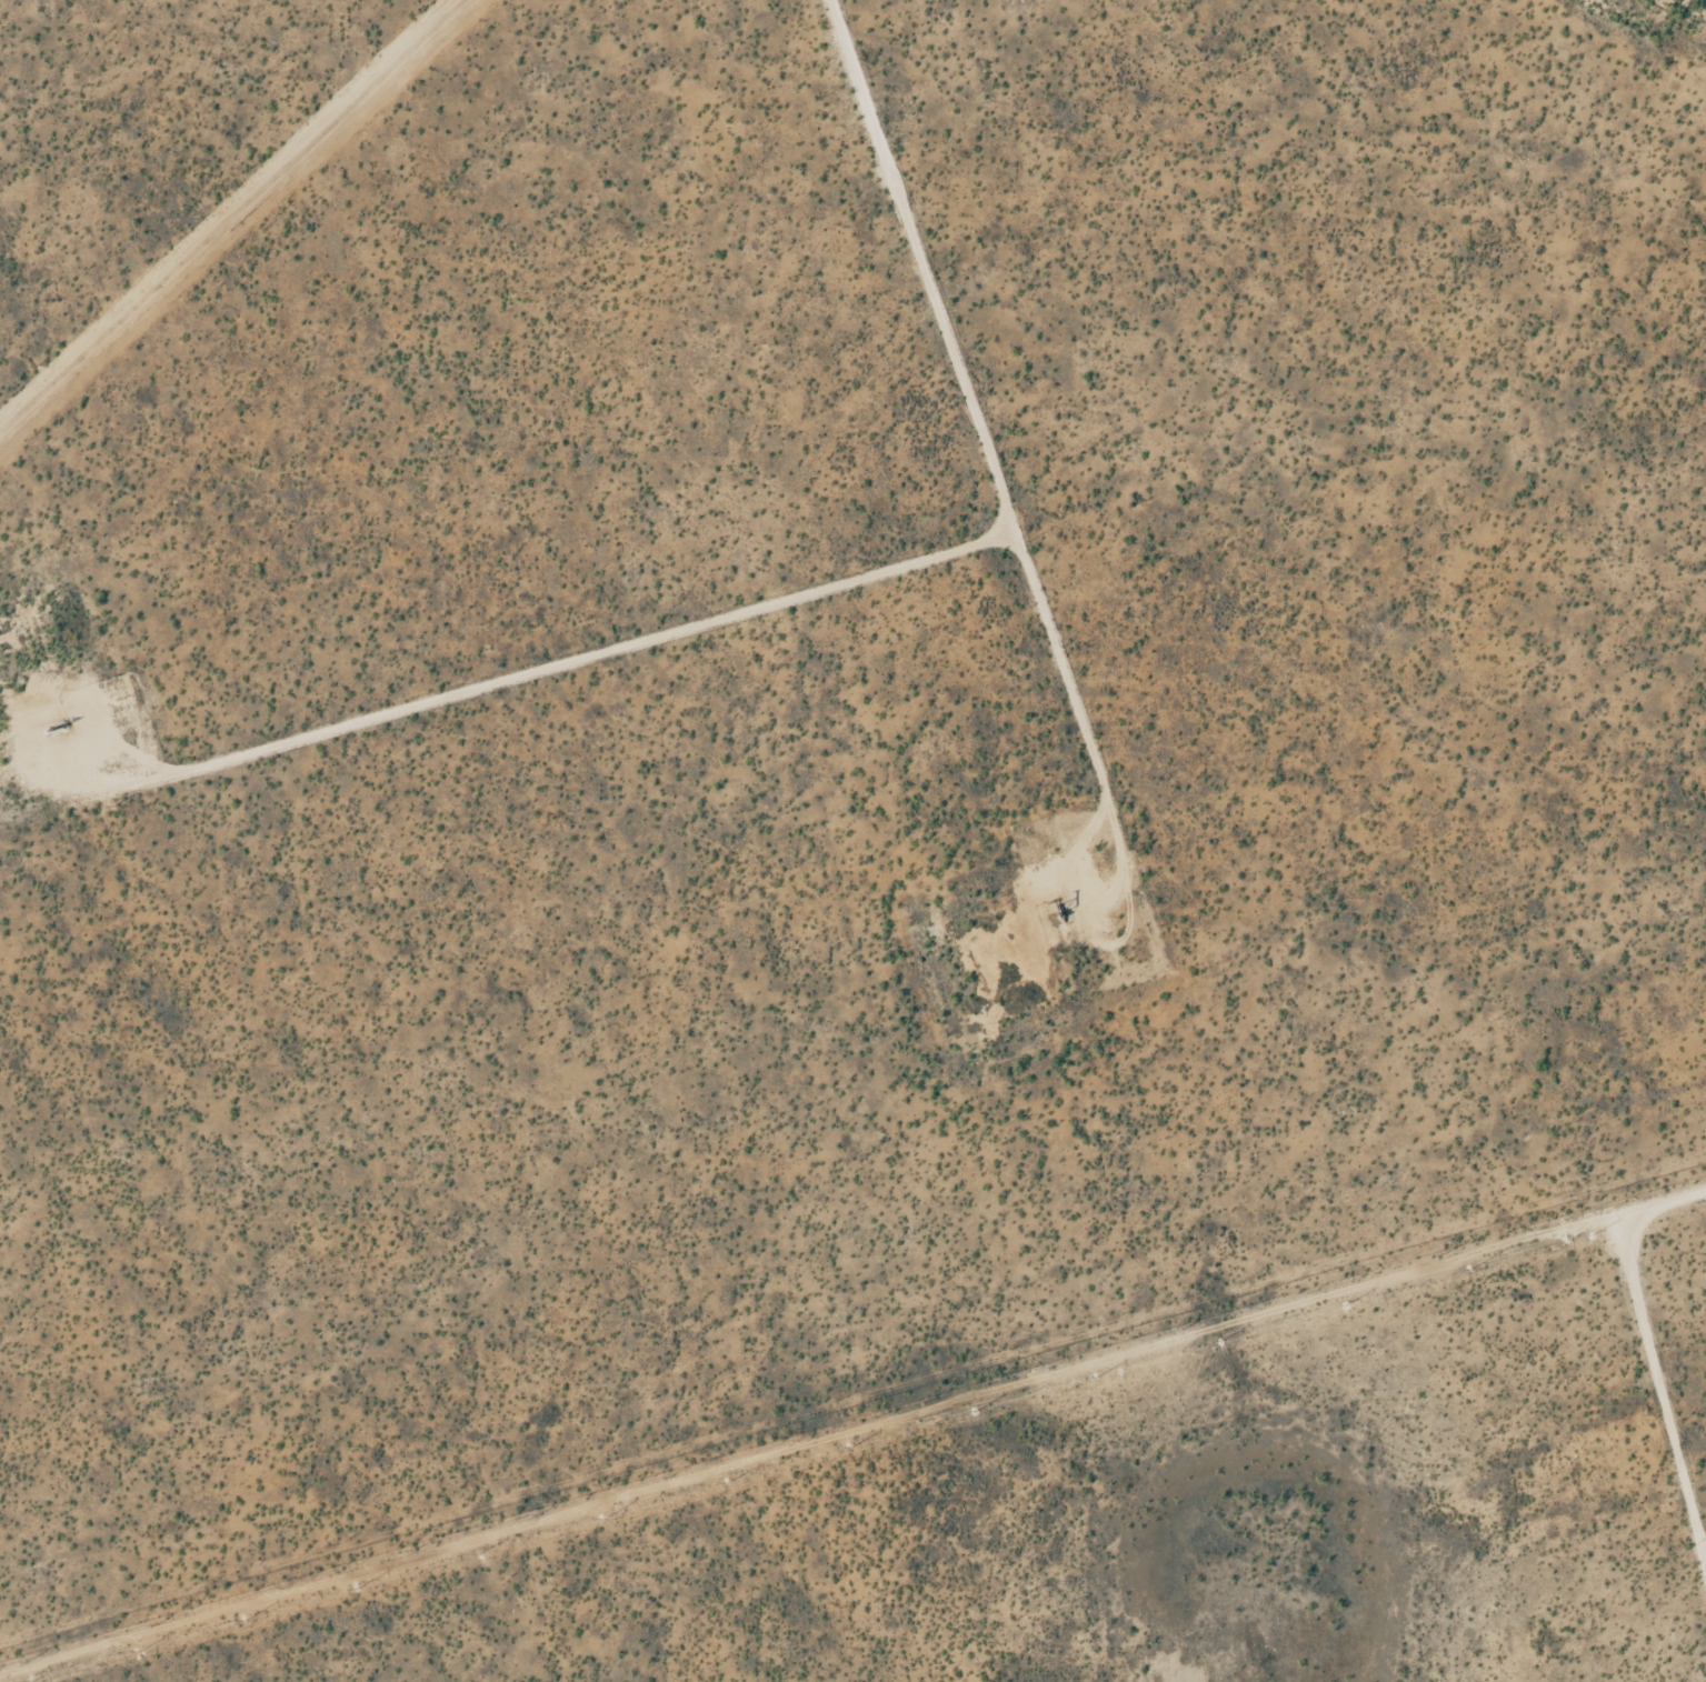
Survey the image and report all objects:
road: (852, 1408)

